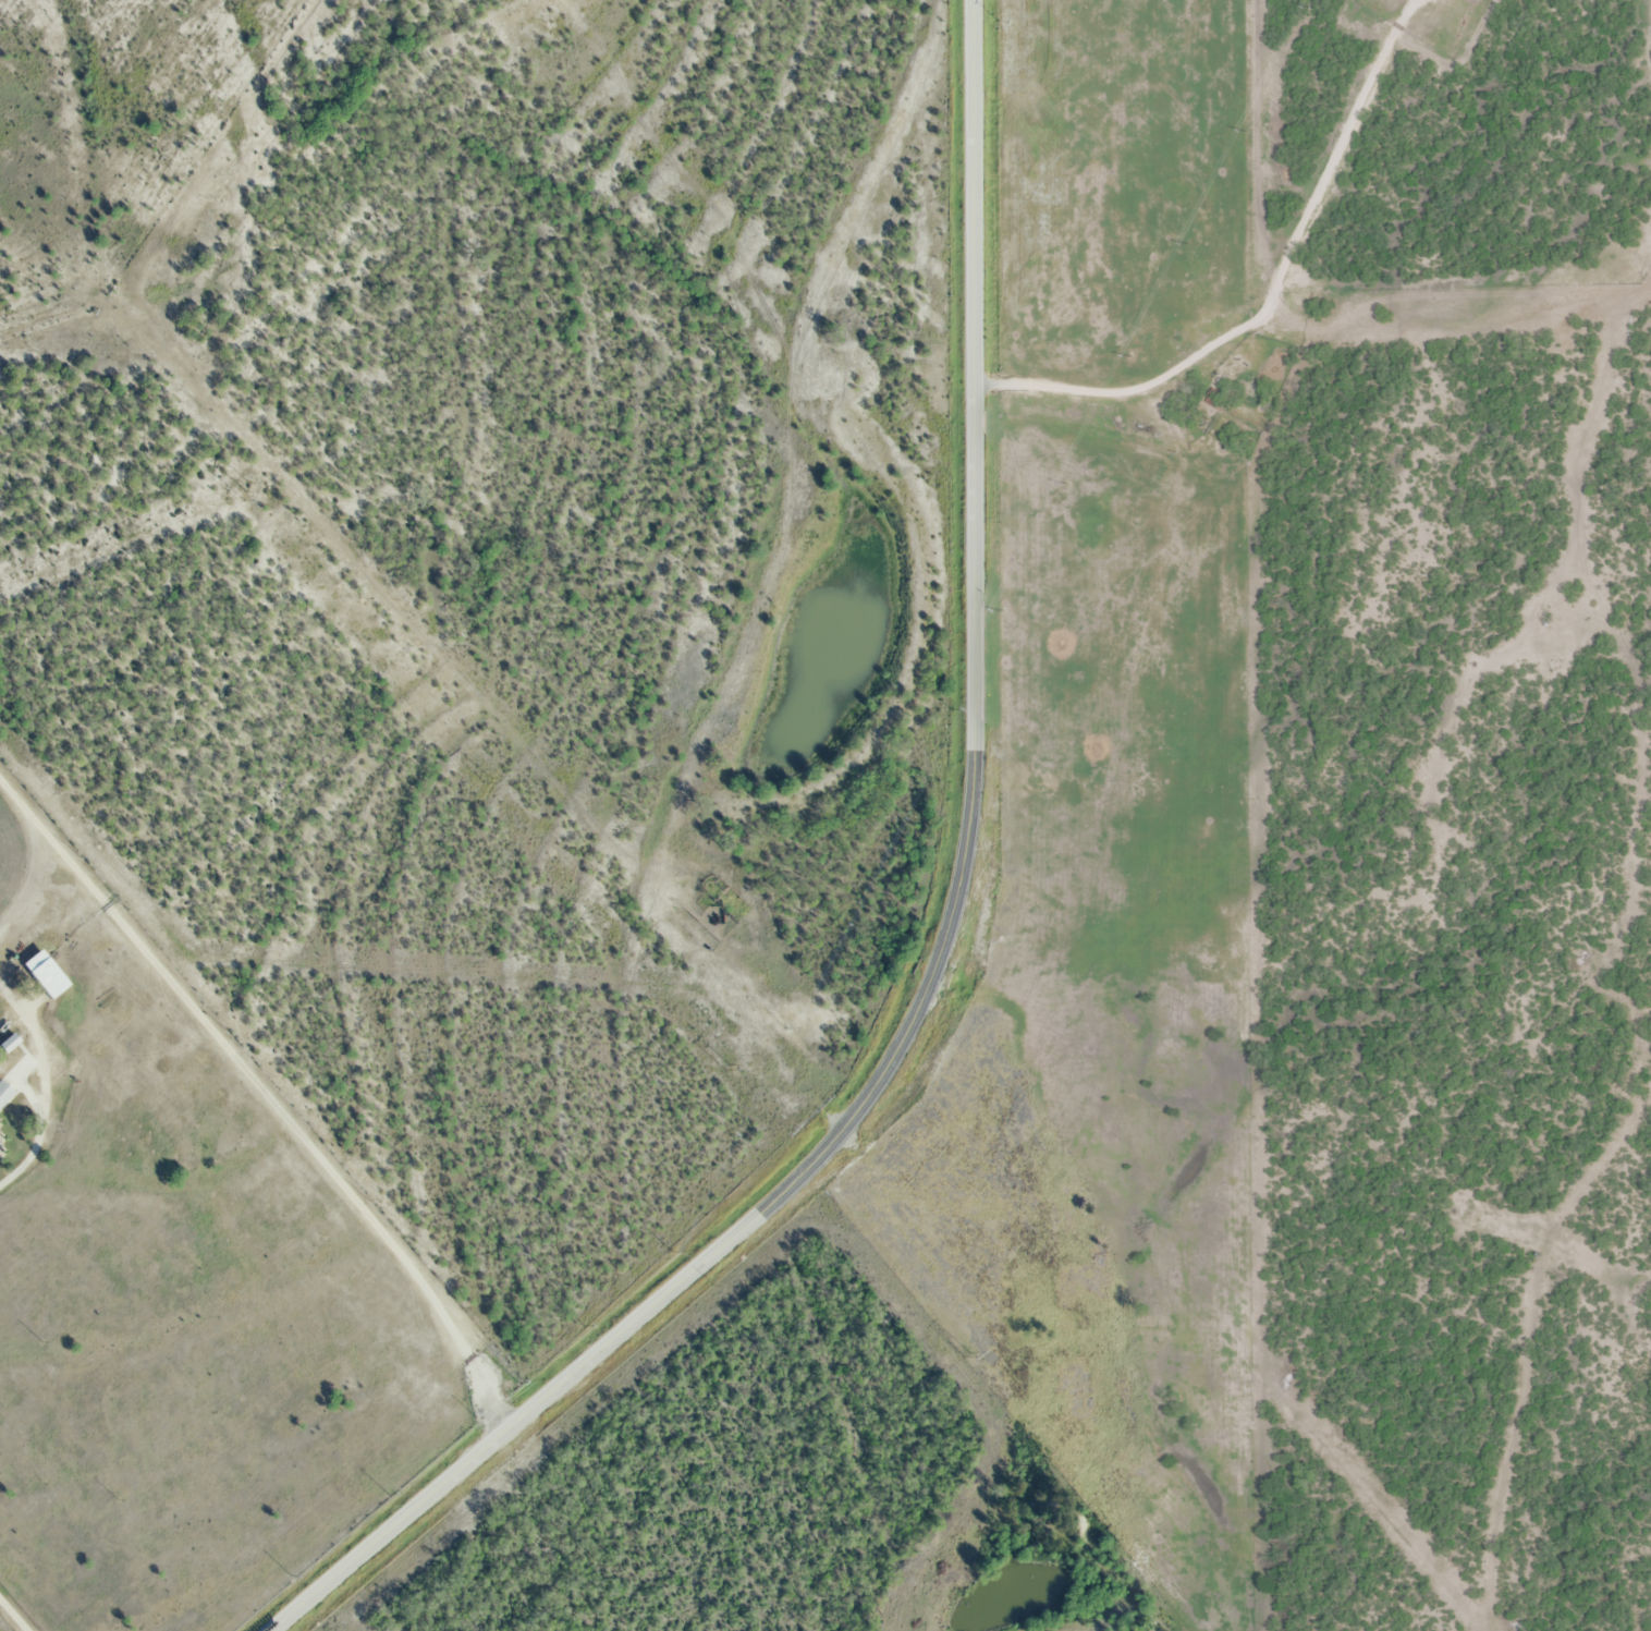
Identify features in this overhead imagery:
road: (1322, 179)
road: (1248, 322)
power tower: (245, 486)
power tower: (484, 778)
road: (937, 957)
building: (46, 978)
building: (7, 1044)
power tower: (726, 1067)
building: (3, 1094)
road: (262, 1094)
road: (42, 1098)
power tower: (966, 1354)
road: (13, 1615)

